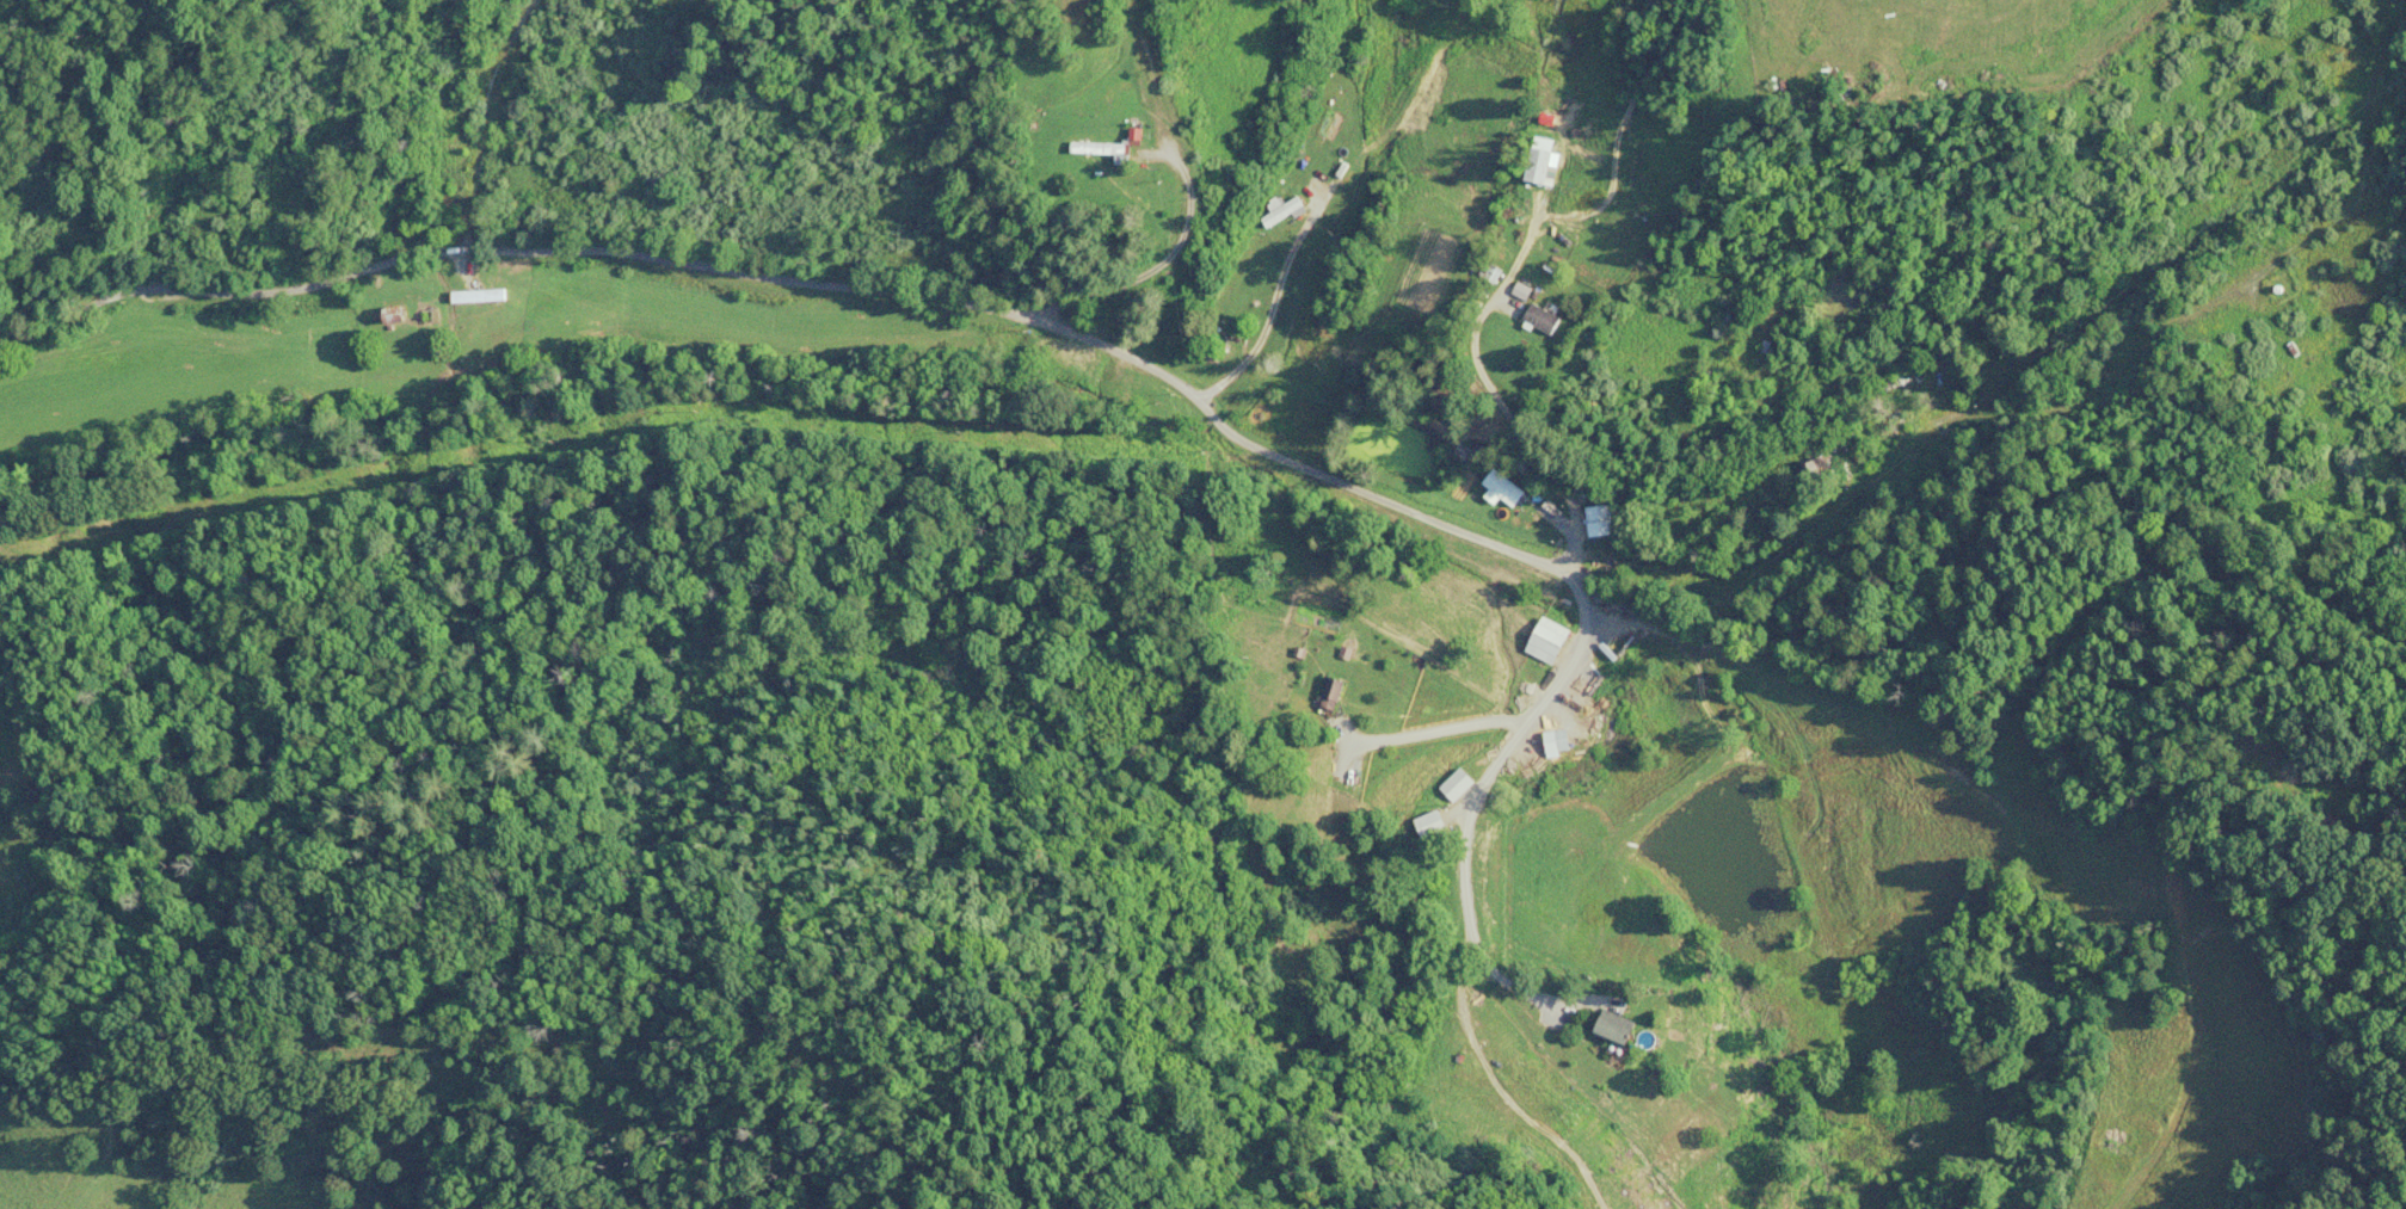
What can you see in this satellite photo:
building: (1107, 150)
building: (1539, 166)
building: (417, 201)
road: (816, 226)
building: (1273, 252)
building: (479, 297)
building: (1540, 319)
building: (1313, 384)
building: (1502, 486)
road: (1888, 486)
building: (1547, 642)
building: (1333, 693)
building: (1457, 784)
building: (1427, 824)
building: (1600, 1025)

